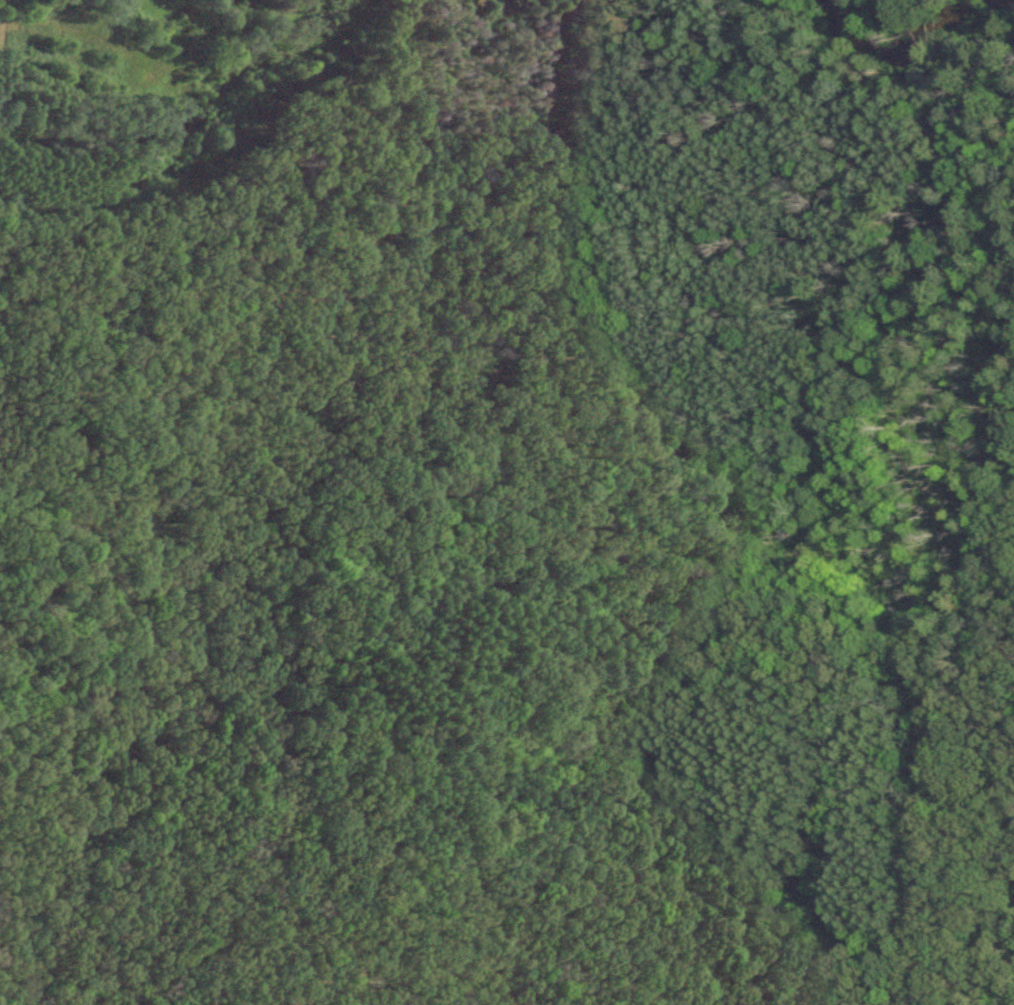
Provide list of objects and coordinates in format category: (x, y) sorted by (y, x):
river: (906, 36)

